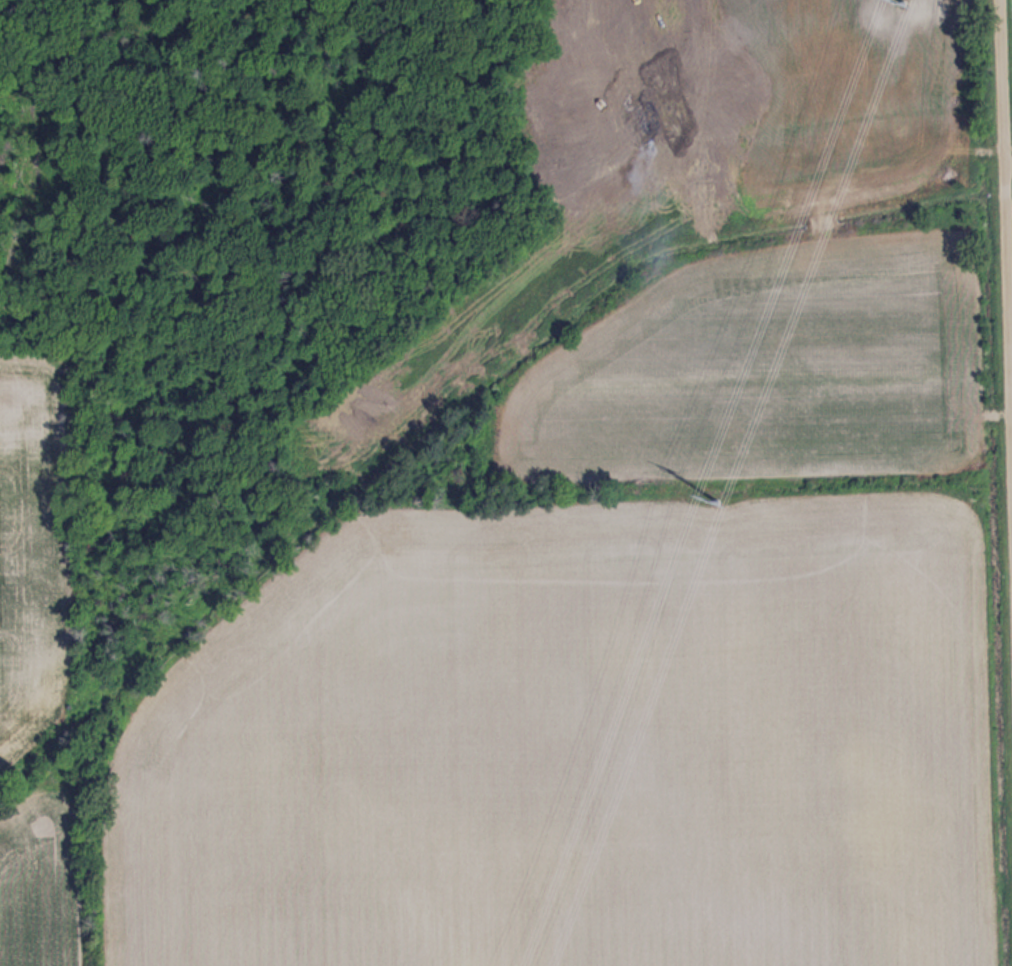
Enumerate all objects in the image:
road: (1002, 345)
power tower: (722, 498)

